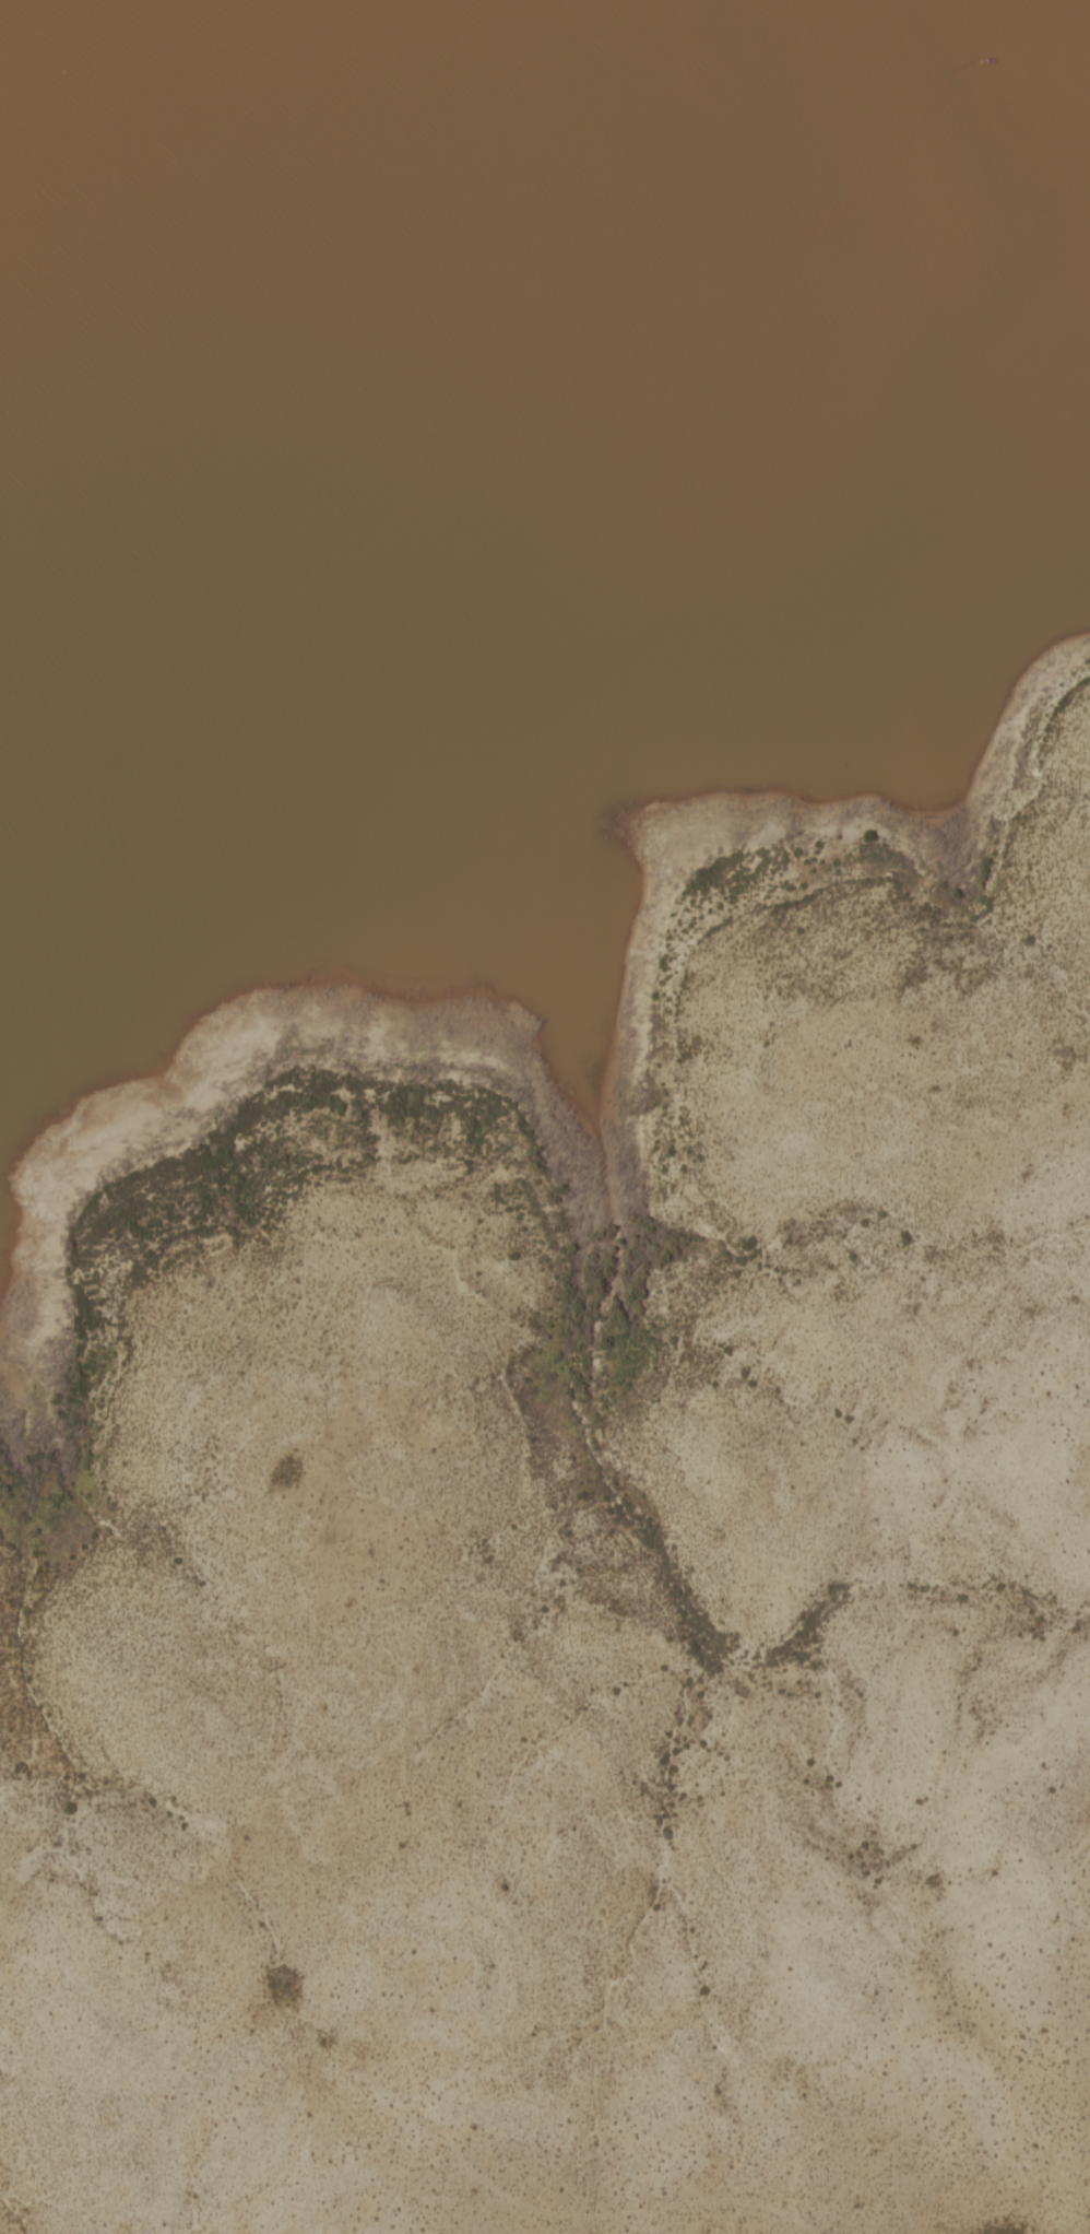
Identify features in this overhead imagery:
river: (545, 486)

